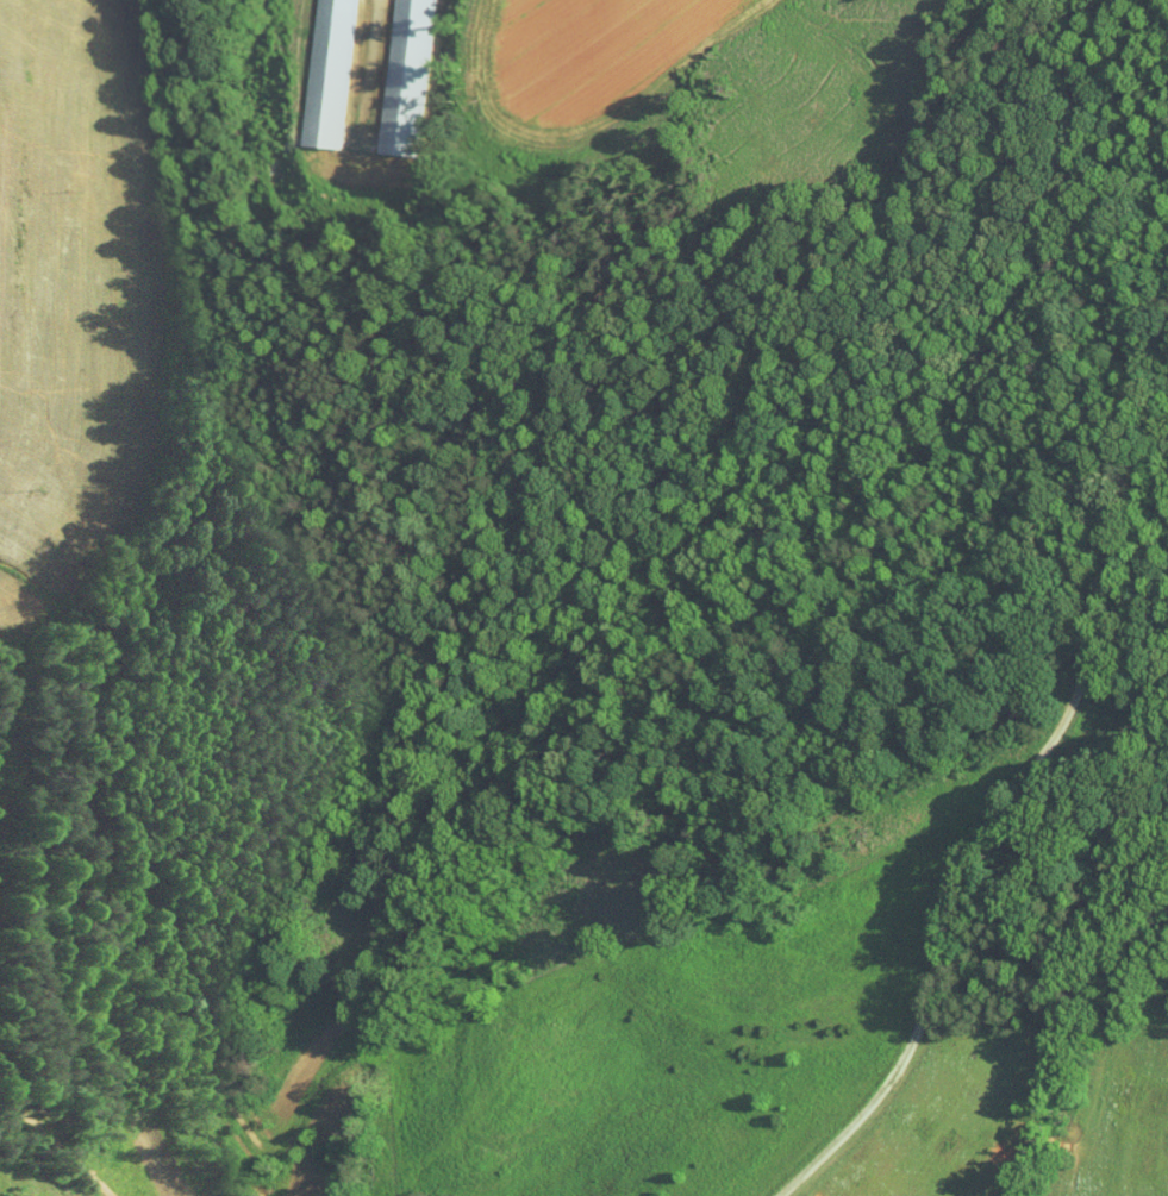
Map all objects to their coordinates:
building: (332, 70)
building: (402, 74)
road: (988, 829)
road: (56, 1142)

